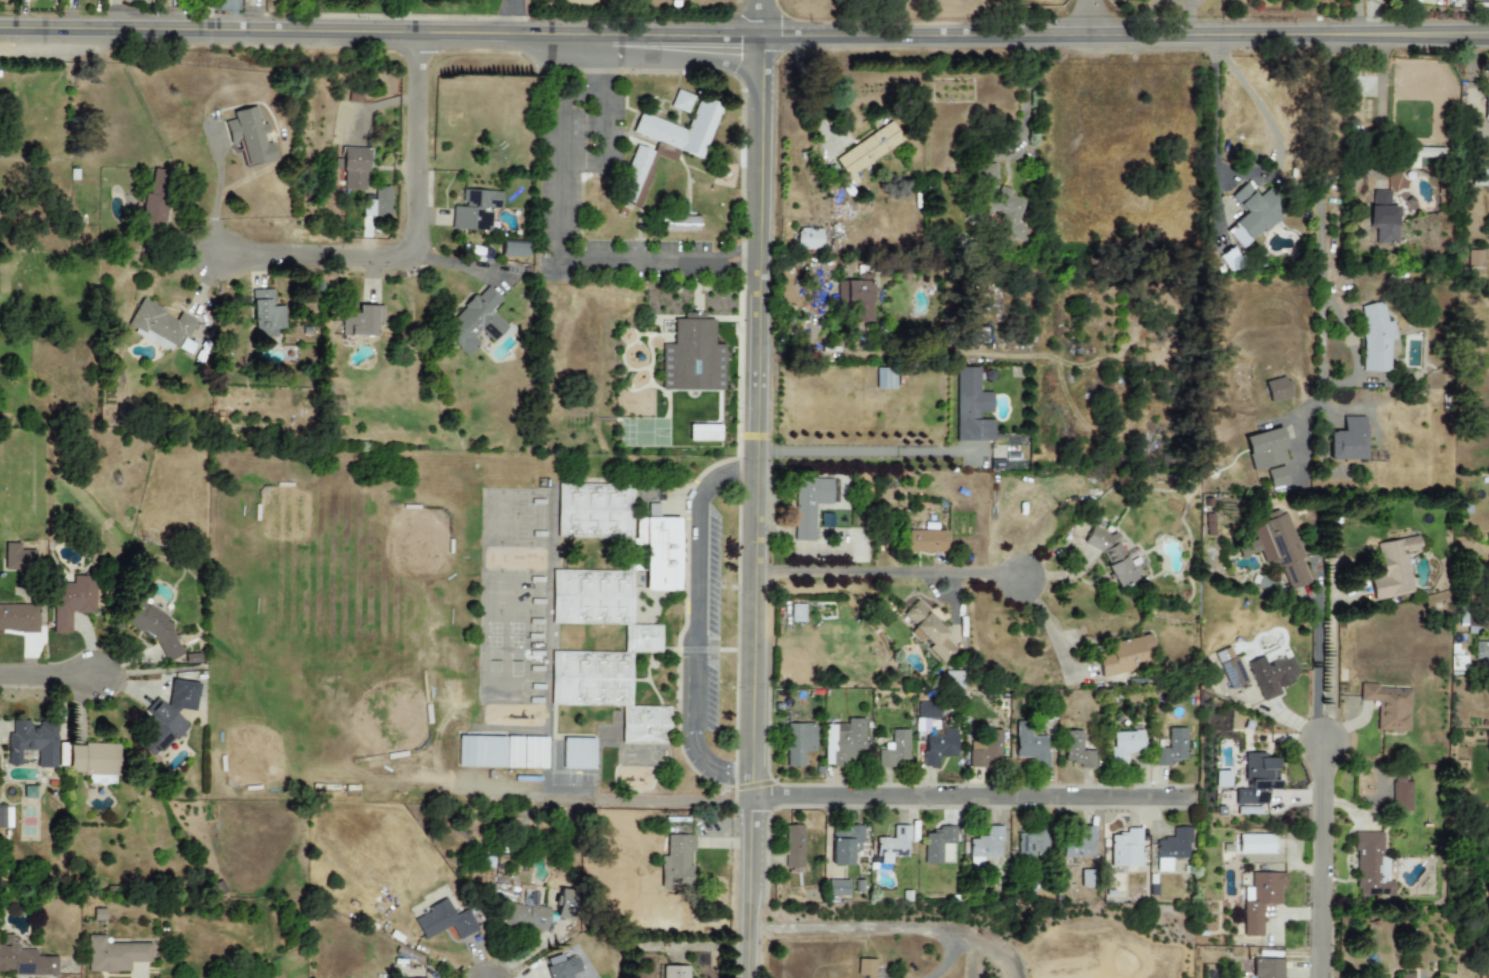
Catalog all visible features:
building: (221, 7)
road: (512, 17)
road: (764, 19)
road: (872, 19)
road: (1084, 19)
road: (1359, 19)
road: (1371, 19)
road: (383, 31)
road: (1047, 39)
road: (1351, 39)
road: (1378, 39)
road: (1436, 39)
building: (356, 94)
road: (600, 98)
building: (681, 101)
road: (1025, 101)
building: (1486, 105)
road: (1382, 110)
building: (285, 127)
road: (1214, 132)
building: (248, 137)
building: (664, 147)
building: (868, 149)
building: (356, 167)
building: (79, 179)
building: (159, 182)
building: (115, 193)
road: (217, 197)
building: (1000, 201)
building: (154, 207)
building: (477, 210)
building: (1253, 213)
building: (1383, 217)
building: (678, 224)
road: (556, 234)
road: (415, 237)
building: (808, 239)
building: (513, 248)
road: (731, 253)
building: (1474, 259)
road: (457, 264)
road: (731, 267)
road: (1320, 284)
building: (854, 298)
building: (265, 314)
building: (167, 319)
building: (485, 325)
building: (363, 327)
building: (1375, 339)
building: (692, 357)
building: (885, 379)
building: (1277, 389)
building: (333, 390)
building: (971, 407)
building: (703, 433)
building: (1347, 440)
building: (1265, 449)
road: (868, 451)
building: (1276, 477)
building: (811, 503)
road: (760, 508)
building: (600, 510)
building: (1210, 525)
building: (924, 541)
building: (1281, 548)
building: (1110, 552)
building: (663, 553)
building: (17, 558)
road: (892, 574)
building: (1394, 575)
building: (1268, 586)
building: (74, 599)
building: (592, 600)
building: (19, 617)
road: (694, 624)
road: (1048, 625)
building: (157, 630)
building: (928, 632)
building: (649, 640)
building: (1480, 652)
road: (1329, 657)
building: (1127, 658)
road: (1316, 668)
road: (51, 669)
building: (1234, 673)
building: (1272, 673)
building: (596, 680)
building: (1390, 707)
building: (171, 715)
building: (928, 716)
building: (647, 726)
building: (843, 742)
building: (798, 743)
building: (1122, 744)
building: (1032, 746)
building: (940, 747)
building: (35, 748)
building: (1171, 748)
building: (895, 749)
building: (986, 750)
building: (579, 751)
building: (1076, 751)
building: (507, 753)
building: (98, 759)
building: (1222, 779)
building: (101, 780)
building: (1257, 783)
building: (1400, 793)
road: (979, 796)
building: (6, 817)
building: (1076, 841)
building: (1034, 842)
building: (1257, 843)
building: (844, 845)
building: (893, 845)
building: (793, 846)
building: (939, 846)
building: (985, 846)
building: (1178, 848)
building: (1125, 849)
road: (1319, 859)
building: (676, 861)
building: (1369, 865)
building: (1089, 879)
building: (1153, 885)
building: (838, 888)
building: (1260, 901)
building: (565, 904)
building: (436, 918)
road: (891, 925)
building: (120, 952)
building: (23, 960)
building: (568, 968)
building: (865, 968)
building: (1267, 968)
building: (678, 972)
building: (422, 975)
building: (1405, 975)

